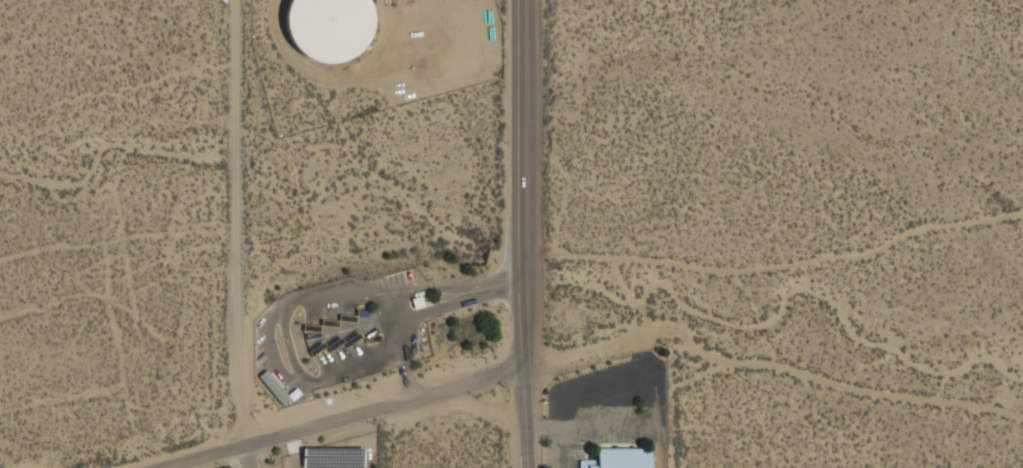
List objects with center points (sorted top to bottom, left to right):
building: (328, 27)
storage tank: (328, 27)
road: (517, 185)
road: (390, 308)
road: (291, 356)
road: (410, 374)
road: (649, 398)
parking lot: (607, 406)
road: (350, 419)
road: (525, 419)
road: (544, 426)
road: (244, 459)
building: (618, 459)

